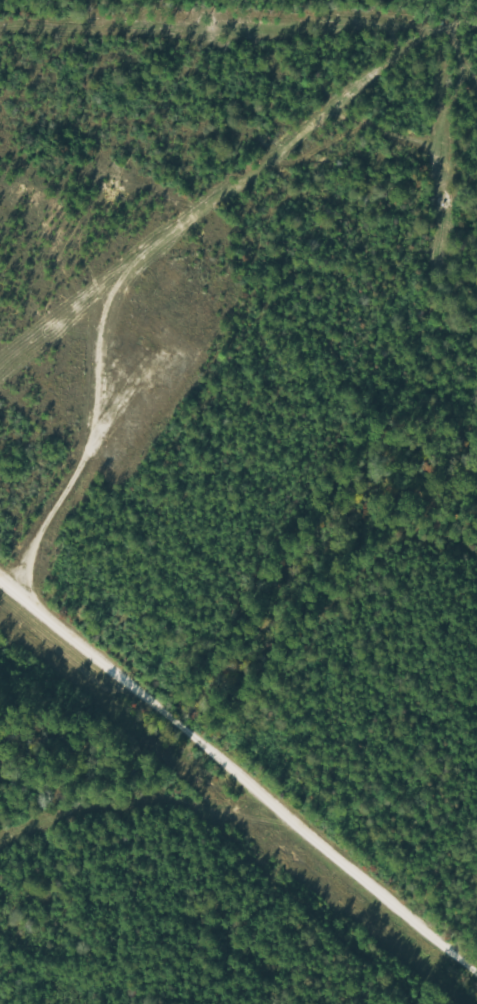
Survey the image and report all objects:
road: (238, 775)

